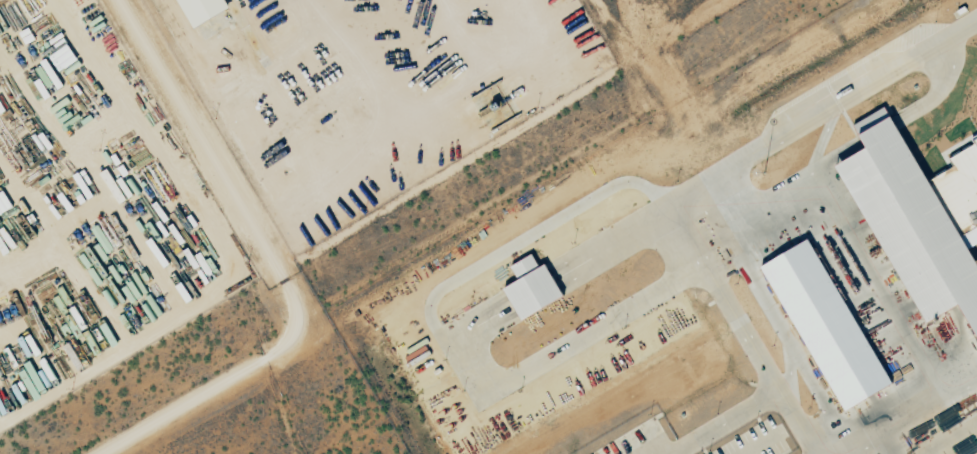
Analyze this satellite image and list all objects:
building: (201, 10)
building: (66, 60)
building: (116, 187)
building: (4, 203)
building: (920, 216)
building: (532, 287)
building: (827, 324)
building: (32, 380)

